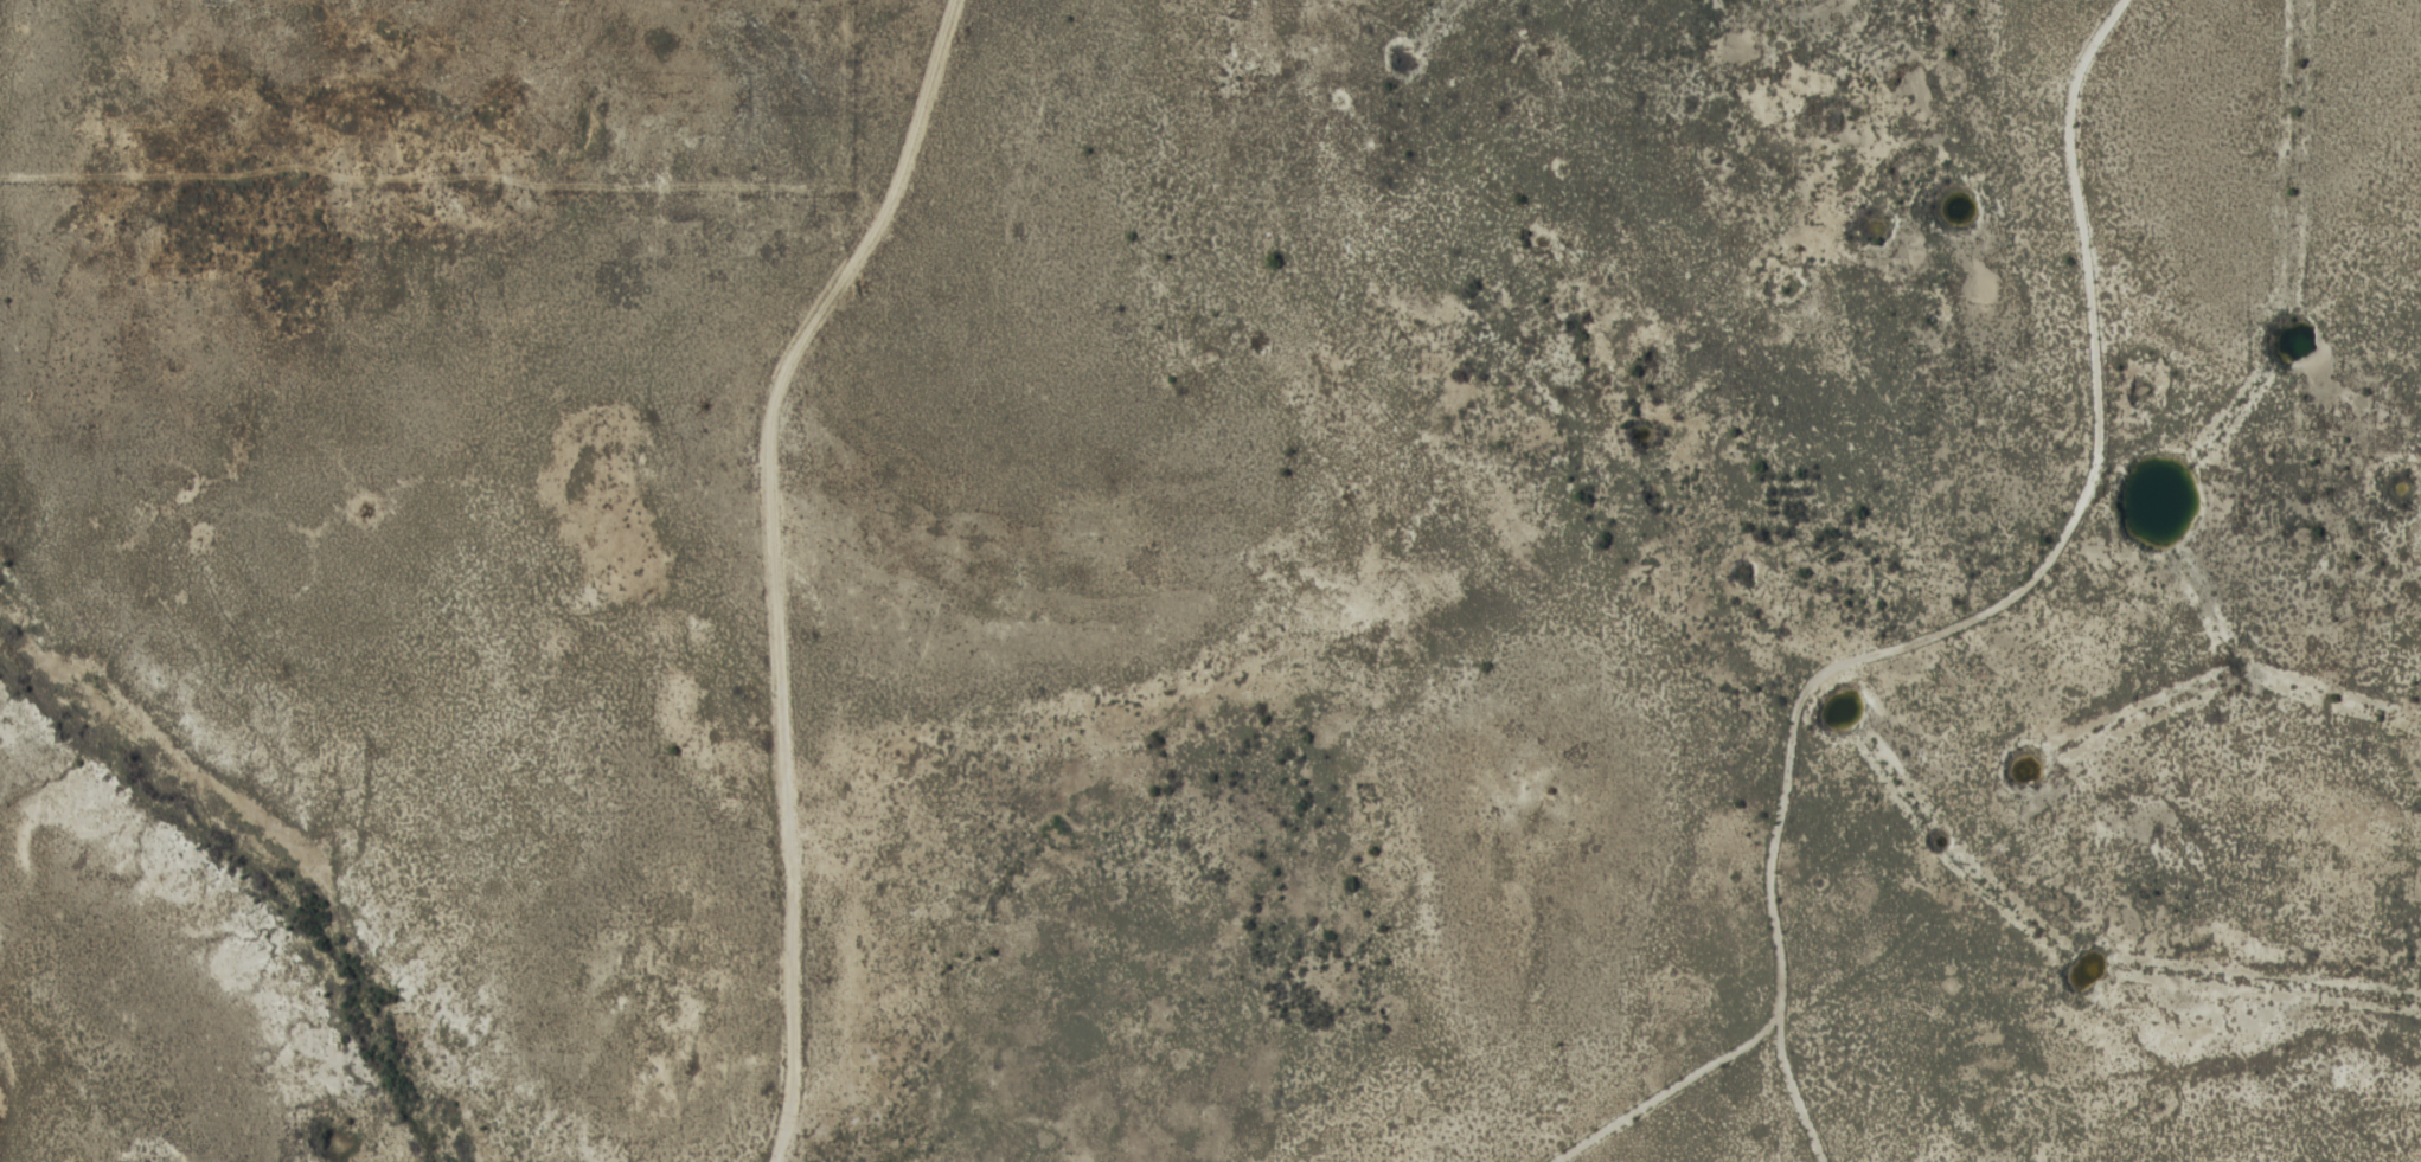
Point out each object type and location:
road: (773, 564)
road: (2004, 570)
road: (1691, 1065)

